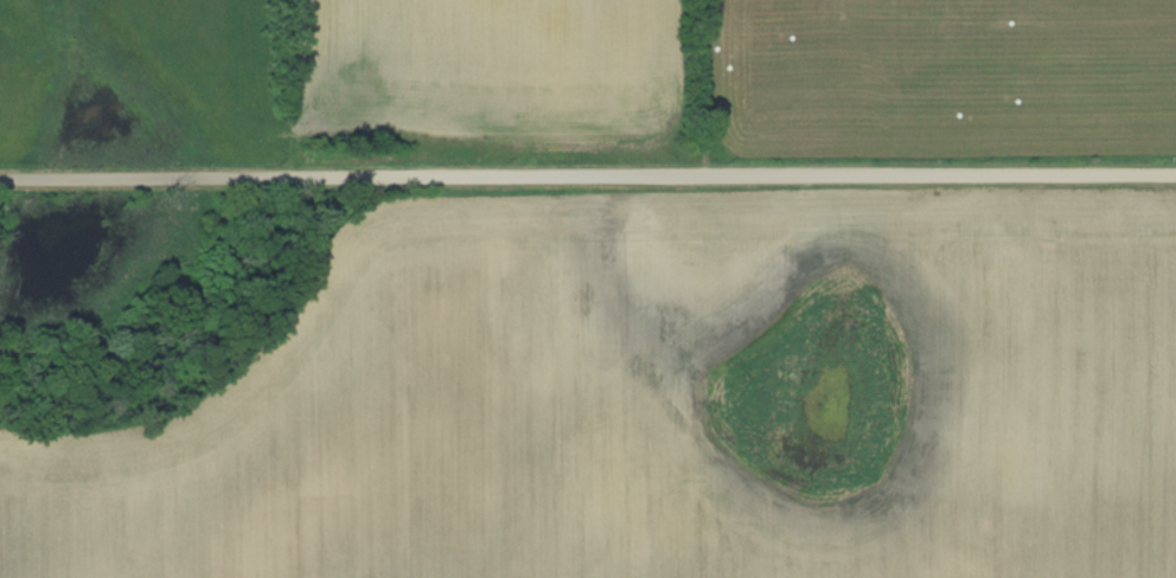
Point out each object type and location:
road: (723, 89)
road: (588, 178)

